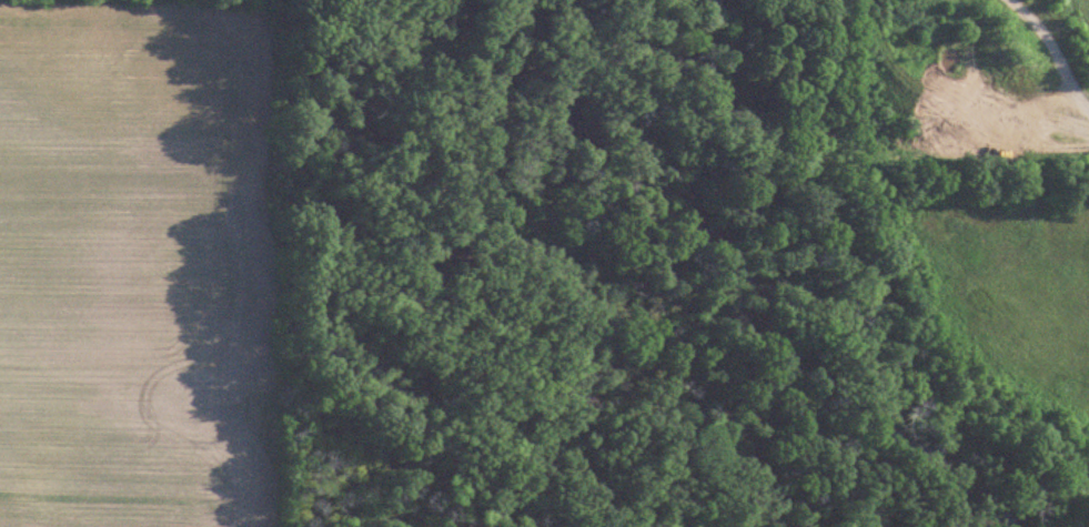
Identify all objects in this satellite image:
river: (742, 263)

